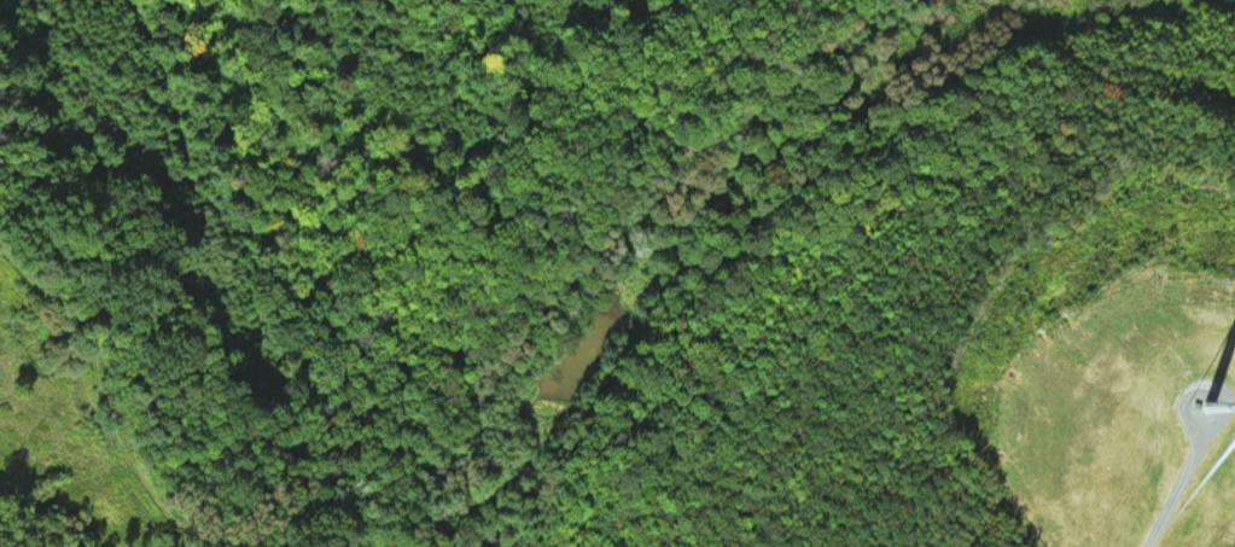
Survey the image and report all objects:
wind turbine: (1205, 406)
road: (509, 467)

